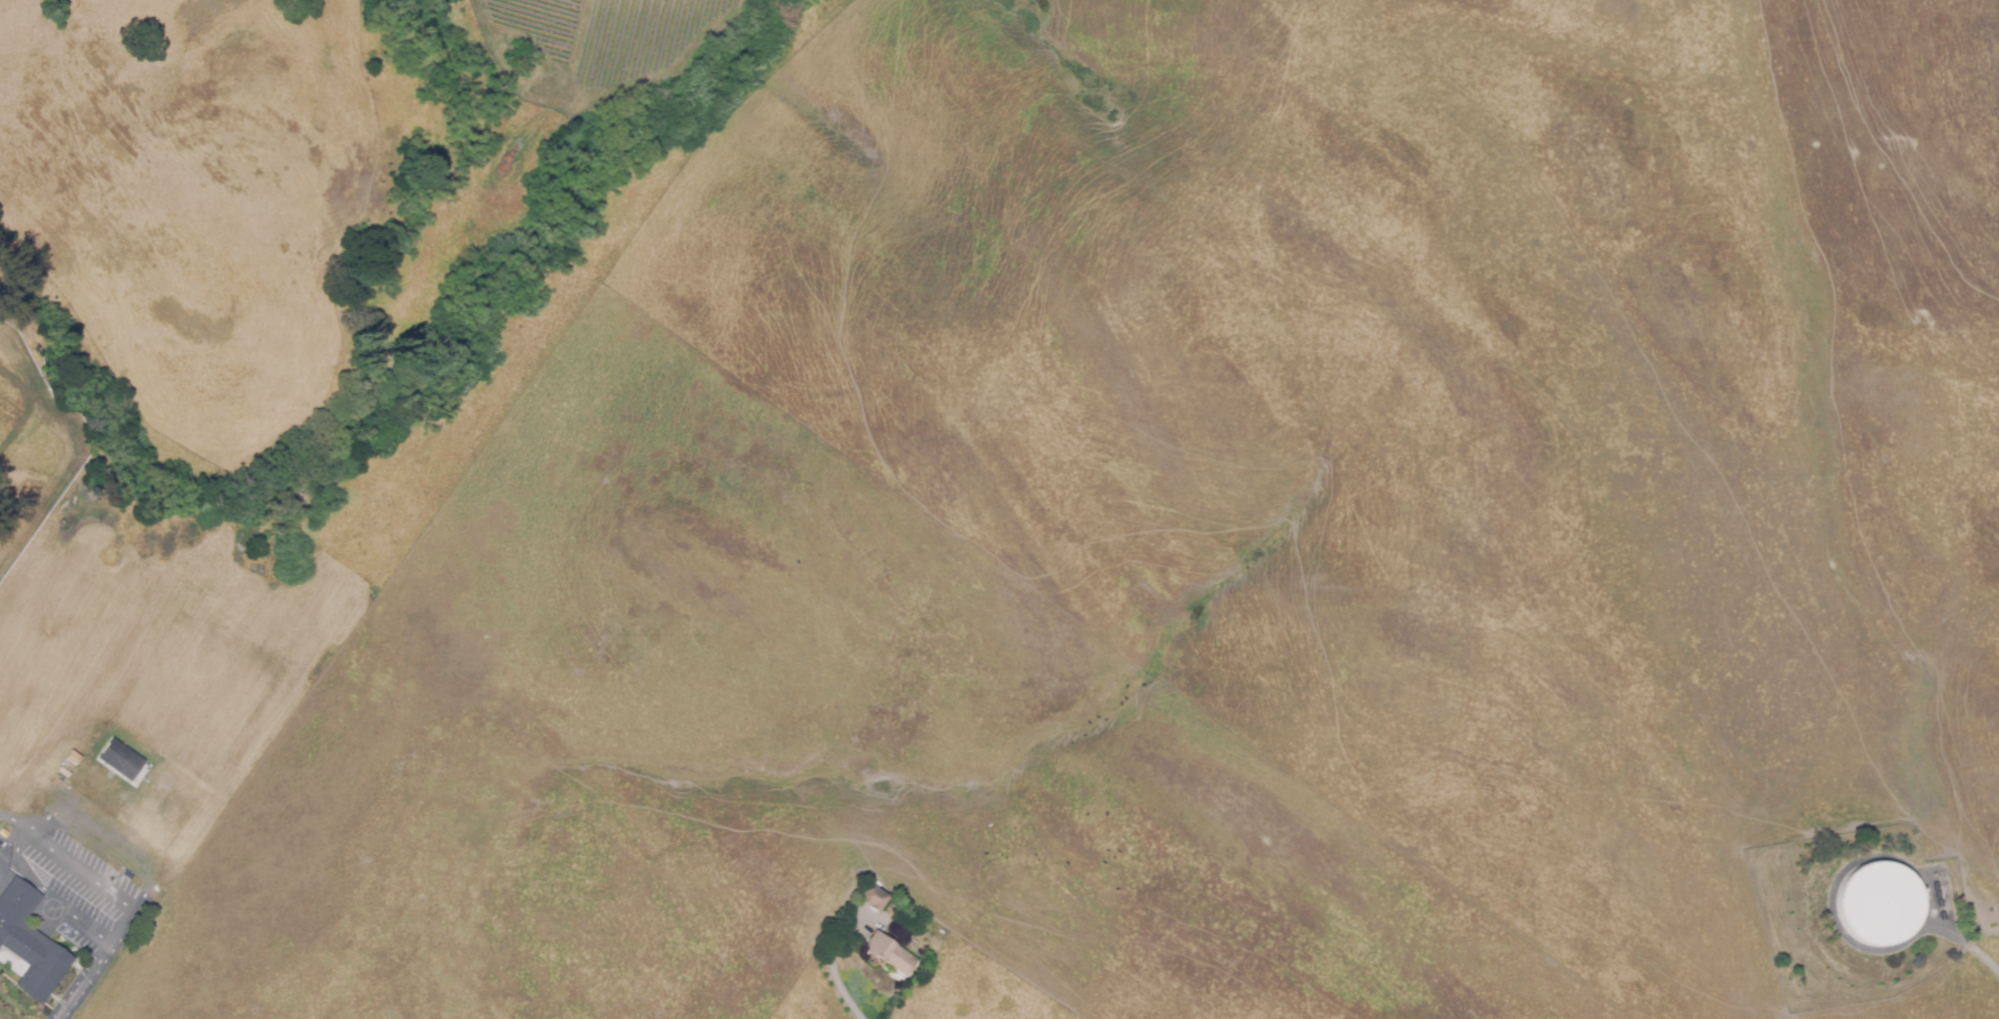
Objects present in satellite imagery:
road: (1204, 70)
road: (450, 509)
building: (121, 759)
road: (49, 893)
building: (875, 897)
building: (1881, 900)
road: (120, 902)
building: (30, 943)
road: (1969, 943)
building: (891, 954)
road: (835, 968)

